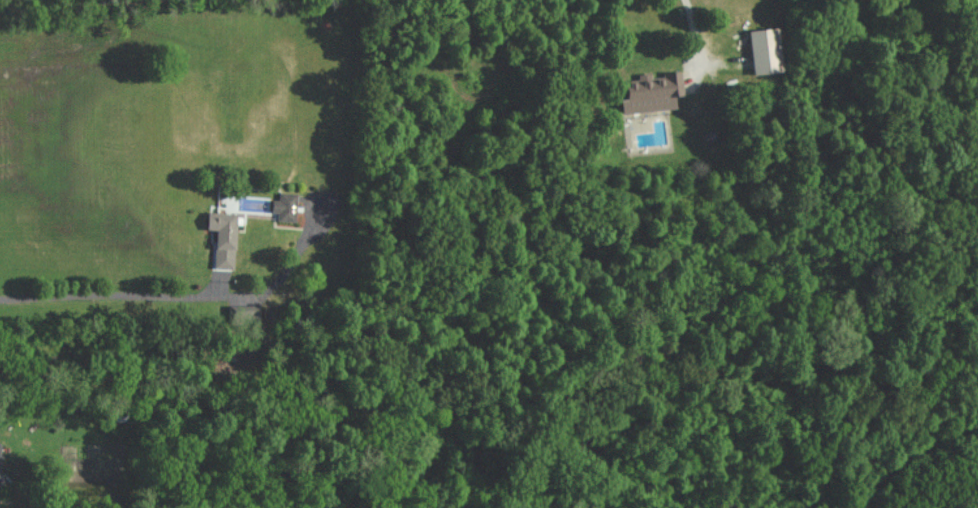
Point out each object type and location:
road: (695, 30)
building: (764, 50)
building: (654, 91)
building: (287, 206)
building: (226, 237)
road: (184, 294)
building: (245, 313)
building: (1, 460)

